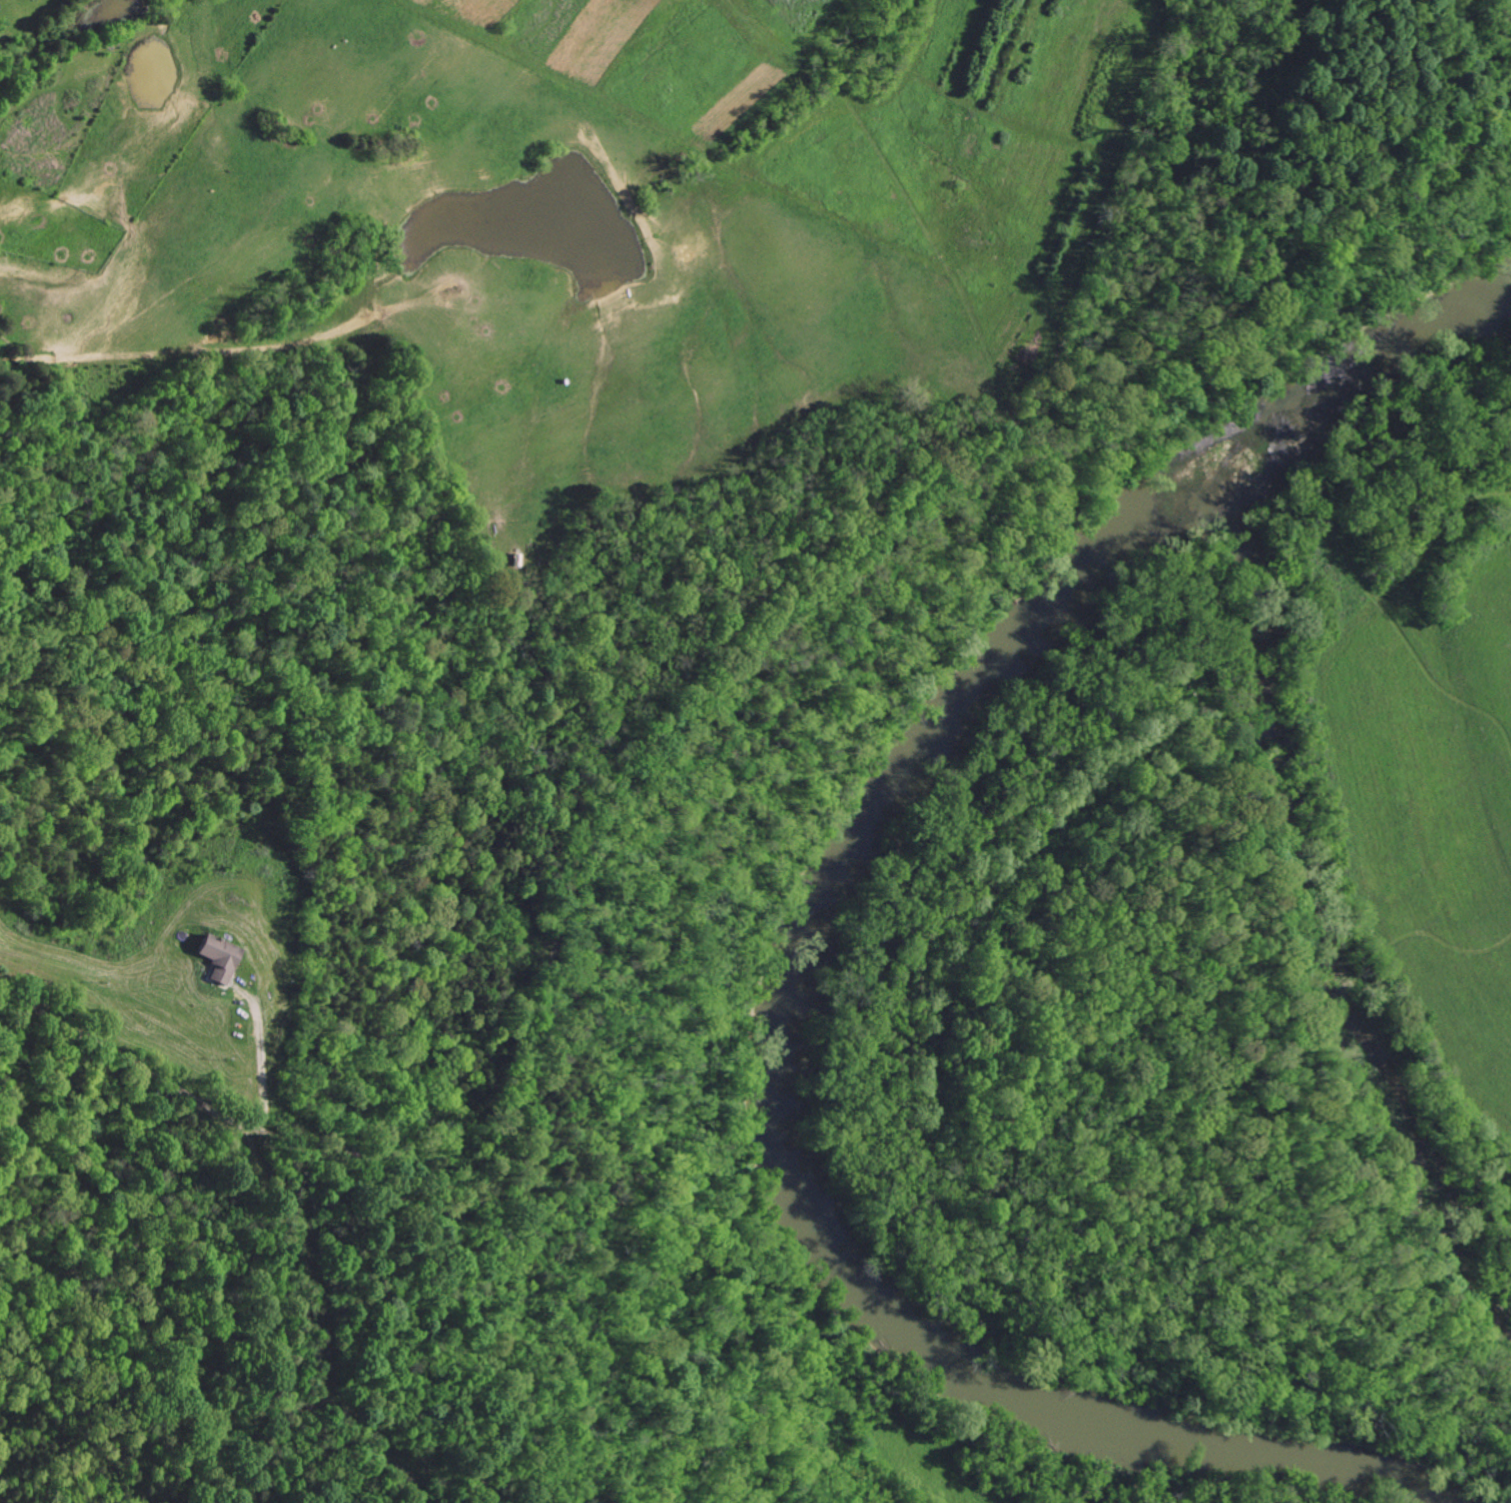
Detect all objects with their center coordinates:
building: (219, 958)
river: (792, 988)
road: (123, 1061)
road: (262, 1065)

